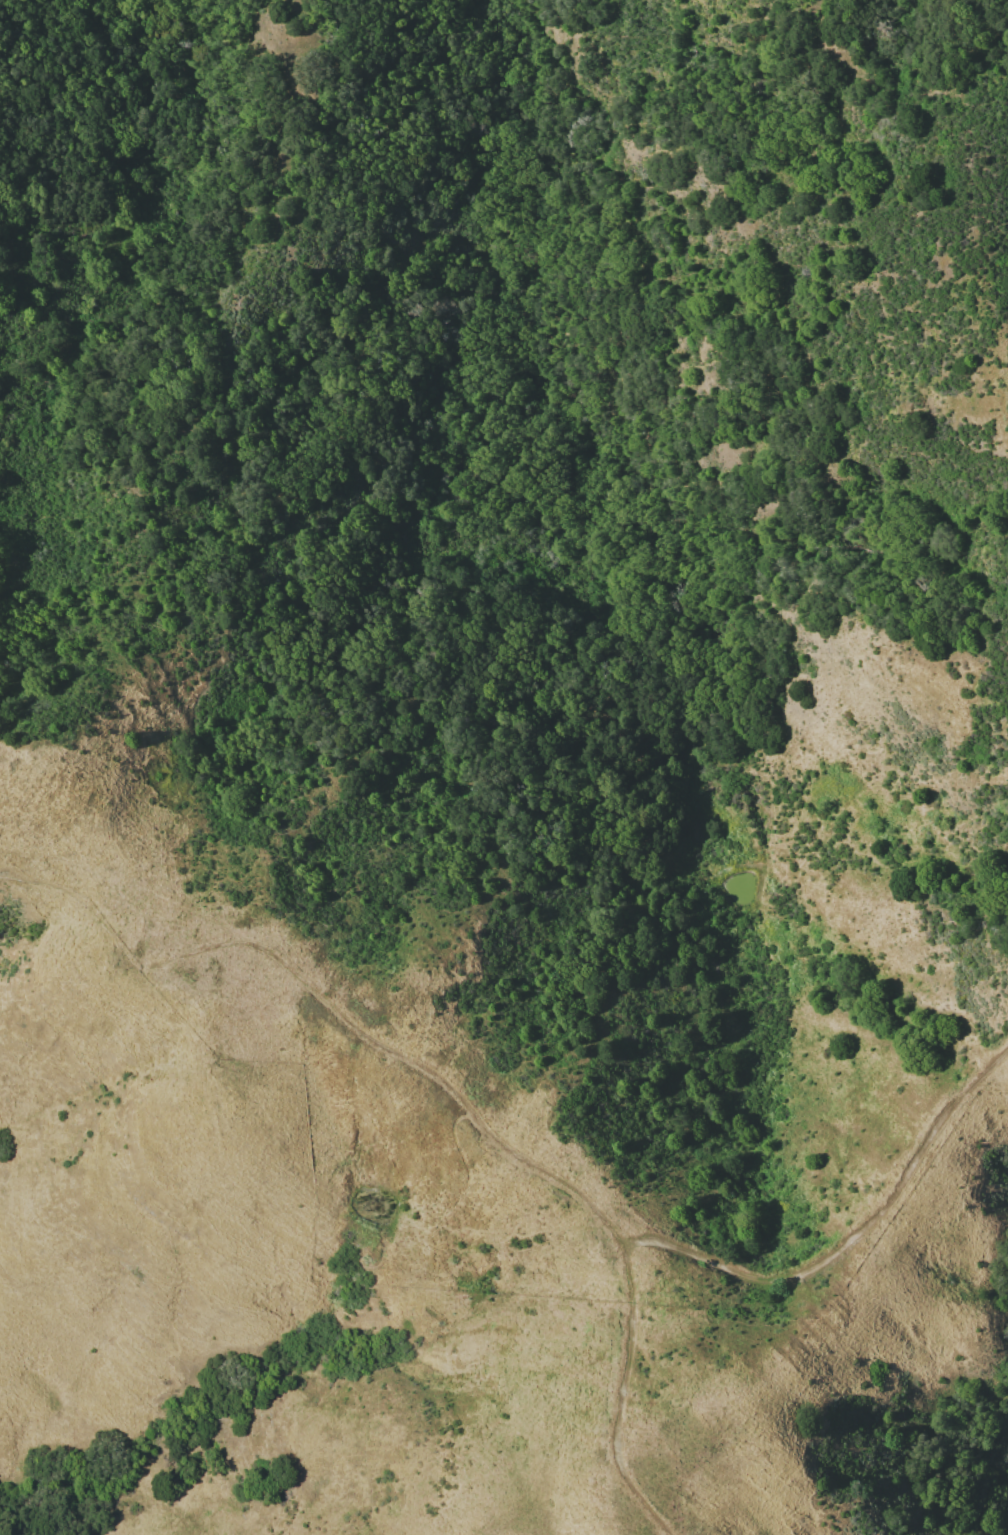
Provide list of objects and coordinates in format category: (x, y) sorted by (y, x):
road: (112, 849)
road: (169, 952)
road: (325, 1002)
road: (858, 1236)
road: (619, 1395)

